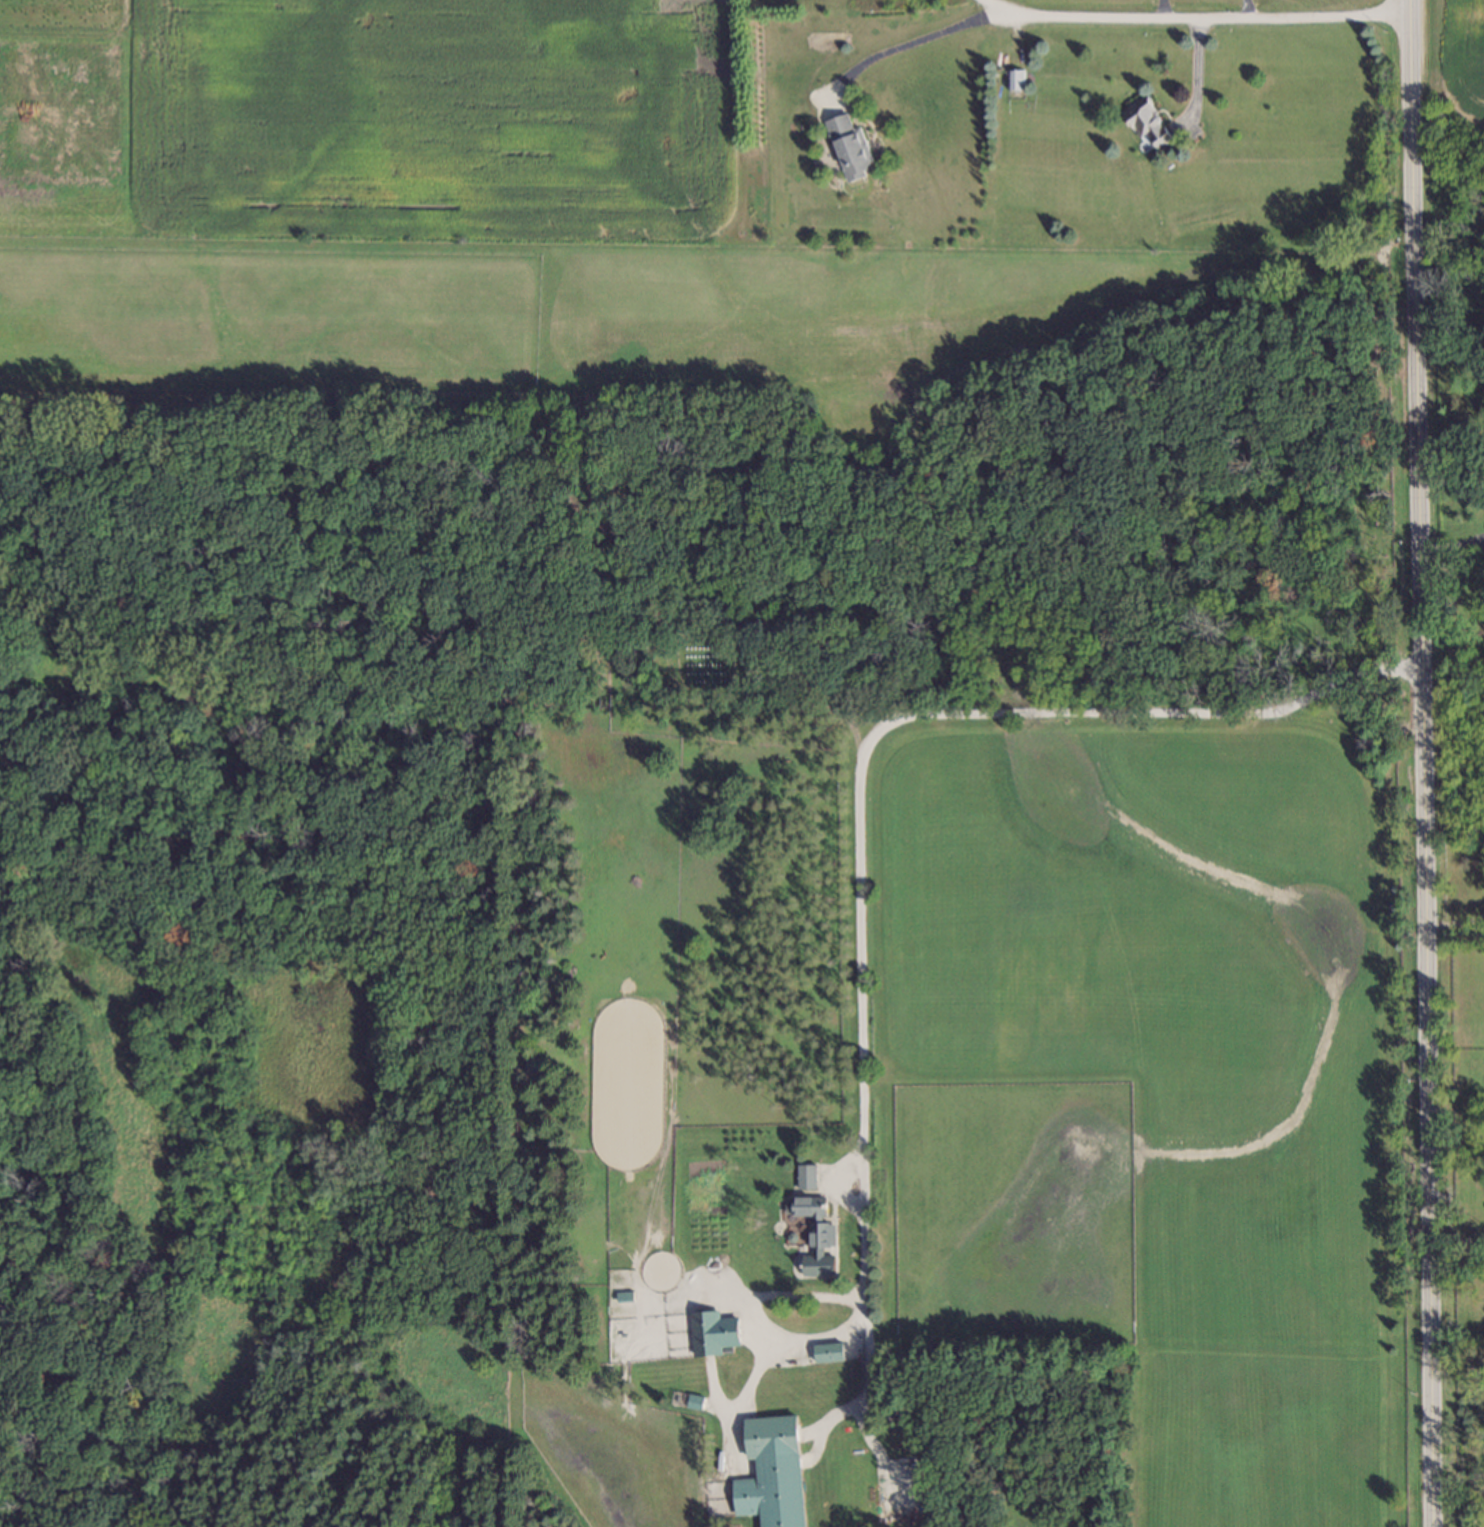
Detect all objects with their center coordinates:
road: (1160, 10)
road: (1249, 10)
road: (1196, 20)
road: (908, 41)
building: (1015, 82)
building: (1146, 126)
building: (848, 148)
road: (1452, 546)
building: (814, 678)
road: (1421, 763)
road: (861, 812)
building: (806, 1175)
building: (814, 1232)
road: (1455, 1246)
building: (625, 1295)
road: (755, 1315)
building: (716, 1334)
building: (832, 1353)
building: (692, 1400)
building: (775, 1439)

